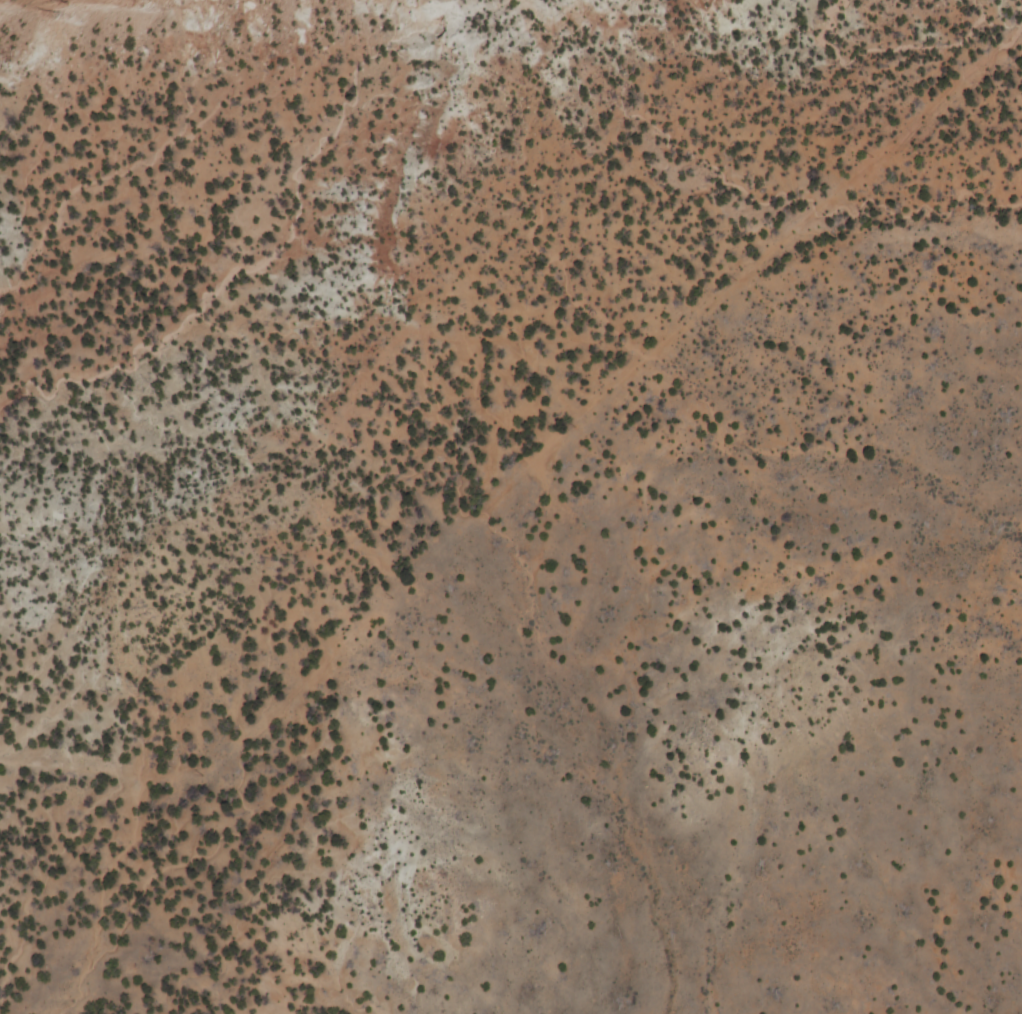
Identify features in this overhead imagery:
road: (548, 486)

